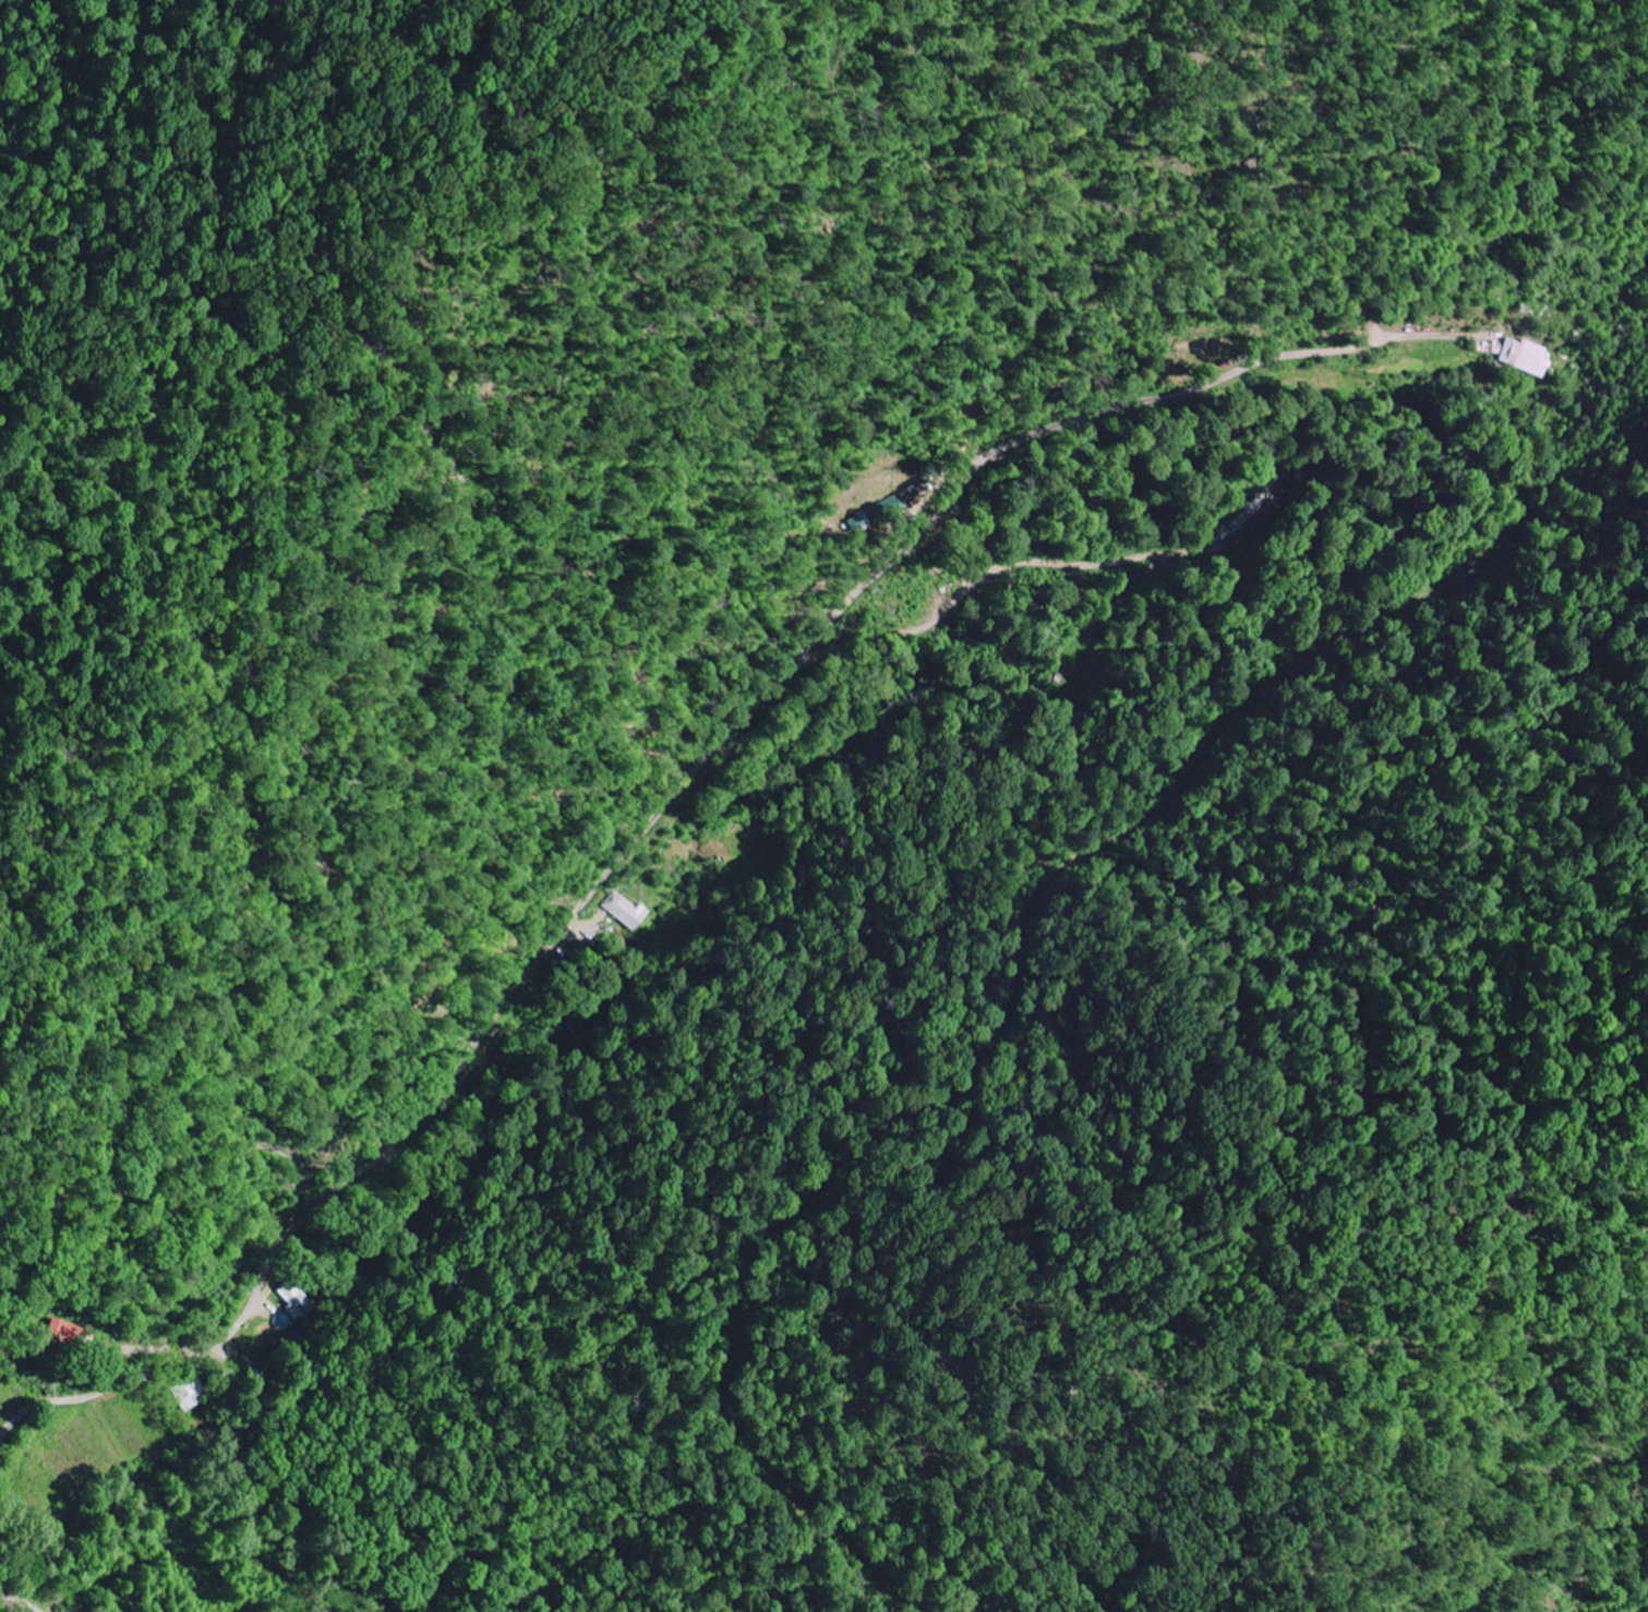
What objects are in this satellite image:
building: (1527, 358)
road: (647, 827)
building: (626, 912)
building: (293, 1302)
road: (8, 1607)

